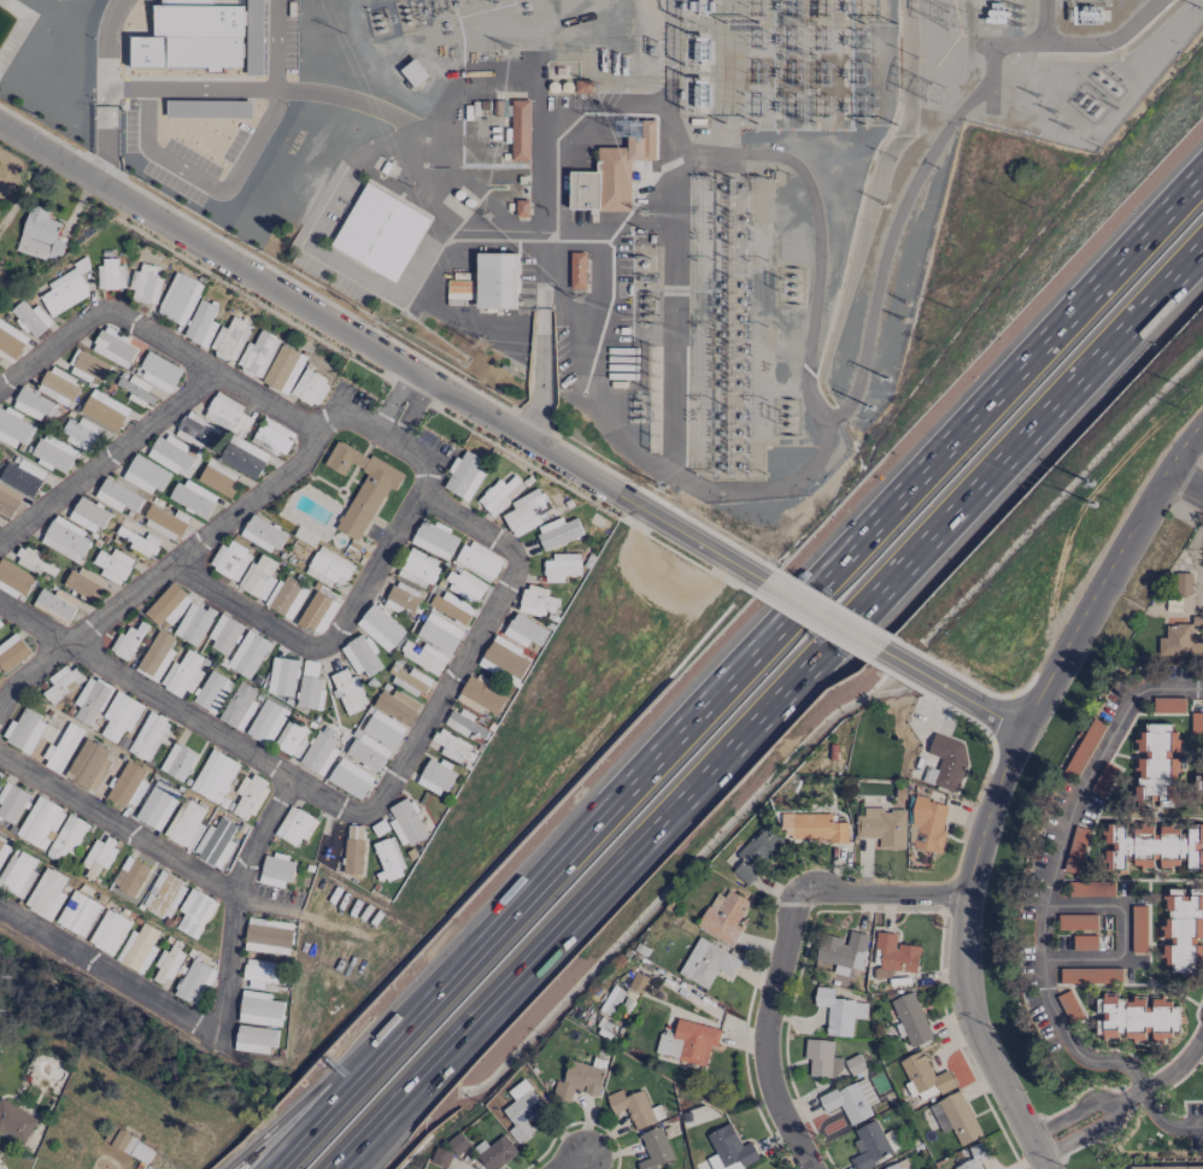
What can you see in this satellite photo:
power tower: (947, 16)
building: (190, 36)
building: (254, 37)
road: (106, 43)
power tower: (511, 47)
power tower: (652, 47)
building: (415, 72)
power tower: (598, 86)
power tower: (933, 90)
road: (388, 110)
power tower: (1054, 111)
building: (520, 130)
road: (107, 146)
road: (723, 154)
road: (237, 168)
building: (612, 171)
power substation: (616, 192)
power tower: (887, 206)
building: (521, 207)
power tower: (641, 211)
power tower: (487, 216)
building: (380, 231)
building: (40, 235)
road: (887, 239)
building: (577, 270)
building: (111, 275)
building: (495, 281)
building: (145, 282)
building: (65, 289)
building: (459, 290)
building: (178, 299)
power tower: (574, 299)
building: (30, 318)
building: (201, 323)
power tower: (644, 325)
road: (149, 336)
building: (230, 339)
power tower: (477, 339)
building: (11, 340)
building: (257, 354)
road: (382, 356)
building: (87, 366)
power tower: (647, 368)
building: (283, 369)
building: (159, 372)
road: (541, 374)
building: (60, 387)
building: (309, 387)
building: (136, 390)
road: (593, 394)
building: (31, 404)
building: (104, 410)
road: (375, 427)
building: (12, 428)
building: (196, 431)
building: (78, 433)
building: (233, 434)
building: (272, 434)
building: (53, 453)
building: (170, 454)
road: (106, 459)
building: (143, 475)
building: (465, 475)
building: (22, 476)
road: (1186, 480)
building: (362, 486)
building: (499, 494)
building: (116, 495)
building: (192, 498)
building: (7, 500)
building: (526, 511)
building: (87, 515)
building: (163, 522)
building: (130, 528)
building: (262, 534)
building: (559, 534)
building: (64, 539)
building: (434, 539)
building: (139, 541)
building: (30, 559)
building: (229, 560)
building: (477, 560)
building: (112, 565)
building: (561, 566)
building: (329, 568)
building: (417, 568)
building: (258, 577)
building: (13, 580)
building: (84, 582)
building: (1181, 583)
building: (463, 587)
building: (288, 598)
building: (401, 598)
building: (536, 600)
building: (60, 605)
building: (168, 605)
building: (451, 607)
building: (317, 612)
road: (821, 617)
building: (193, 623)
building: (1, 627)
building: (380, 627)
building: (524, 630)
building: (439, 633)
building: (223, 635)
building: (128, 640)
road: (323, 641)
road: (471, 642)
building: (1179, 642)
road: (57, 651)
building: (12, 652)
building: (247, 654)
building: (155, 656)
building: (359, 656)
building: (423, 657)
building: (504, 659)
road: (740, 669)
building: (182, 674)
building: (271, 675)
building: (286, 677)
building: (409, 680)
building: (61, 683)
building: (347, 691)
building: (211, 692)
building: (309, 692)
road: (949, 693)
building: (480, 695)
building: (90, 700)
road: (767, 704)
building: (239, 705)
building: (1168, 705)
building: (395, 706)
building: (121, 718)
building: (265, 721)
building: (1196, 723)
building: (463, 724)
building: (383, 728)
building: (148, 736)
building: (291, 739)
building: (42, 740)
building: (450, 745)
building: (1084, 747)
building: (319, 751)
building: (368, 752)
building: (947, 759)
road: (259, 760)
building: (176, 762)
building: (1157, 764)
building: (93, 766)
building: (213, 776)
building: (435, 776)
building: (350, 779)
road: (998, 781)
building: (1104, 781)
building: (243, 797)
building: (1202, 797)
building: (11, 801)
building: (155, 805)
building: (405, 822)
building: (41, 823)
building: (184, 823)
building: (928, 823)
building: (295, 826)
road: (117, 827)
building: (378, 827)
building: (811, 827)
building: (66, 838)
building: (213, 842)
building: (1140, 846)
building: (1192, 847)
building: (353, 850)
building: (1075, 850)
building: (755, 853)
building: (98, 854)
building: (388, 859)
building: (276, 870)
building: (16, 874)
road: (1052, 874)
building: (130, 876)
building: (1091, 888)
road: (880, 892)
building: (46, 893)
building: (164, 895)
building: (195, 912)
building: (77, 914)
building: (723, 916)
building: (1079, 922)
building: (1138, 922)
building: (1183, 929)
building: (108, 932)
road: (1121, 935)
building: (268, 936)
building: (1084, 942)
building: (137, 948)
building: (844, 951)
building: (893, 956)
building: (166, 963)
building: (706, 963)
building: (262, 974)
building: (1090, 975)
building: (193, 981)
building: (611, 999)
building: (258, 1009)
building: (839, 1011)
building: (911, 1018)
building: (1137, 1018)
road: (765, 1033)
building: (253, 1039)
building: (687, 1041)
building: (822, 1058)
building: (855, 1064)
building: (922, 1079)
building: (577, 1080)
road: (1142, 1087)
building: (851, 1100)
building: (634, 1108)
building: (521, 1110)
building: (955, 1117)
road: (1087, 1117)
building: (14, 1121)
building: (457, 1142)
building: (872, 1145)
building: (655, 1149)
building: (728, 1151)
building: (494, 1152)
building: (975, 1156)
building: (440, 1157)
building: (898, 1164)
road: (575, 1167)
building: (1166, 1167)
building: (446, 1168)

